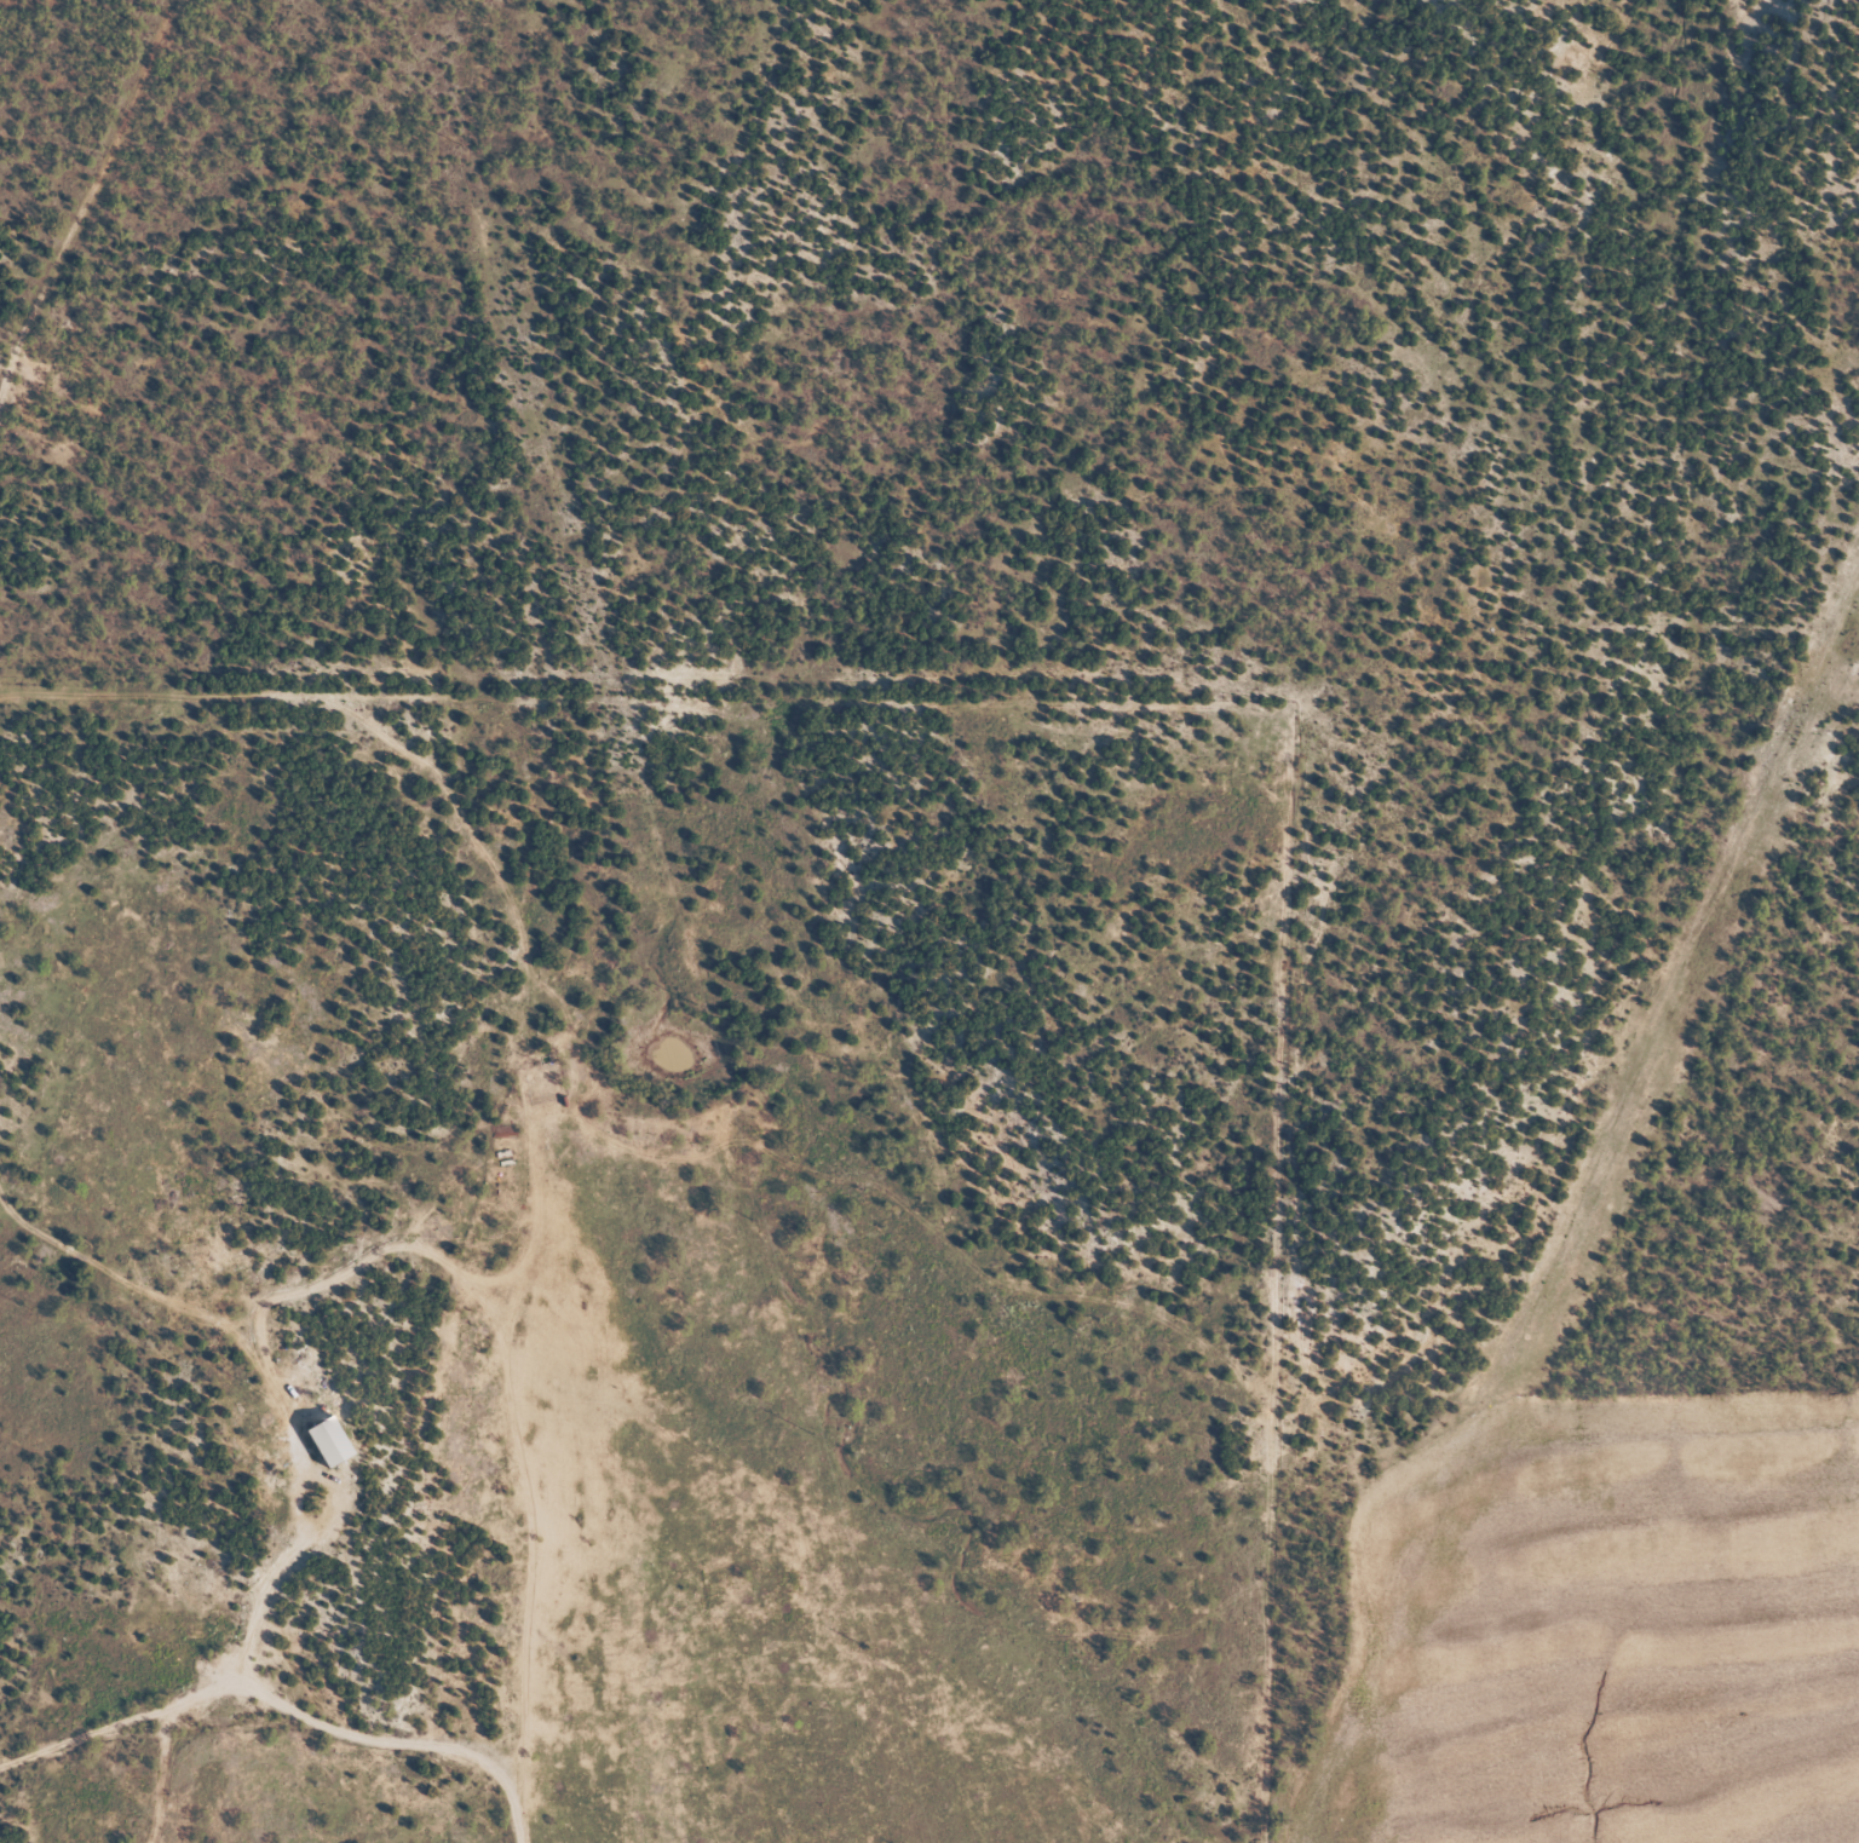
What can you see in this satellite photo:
road: (87, 200)
road: (985, 721)
road: (1346, 1285)
road: (258, 1334)
building: (333, 1440)

